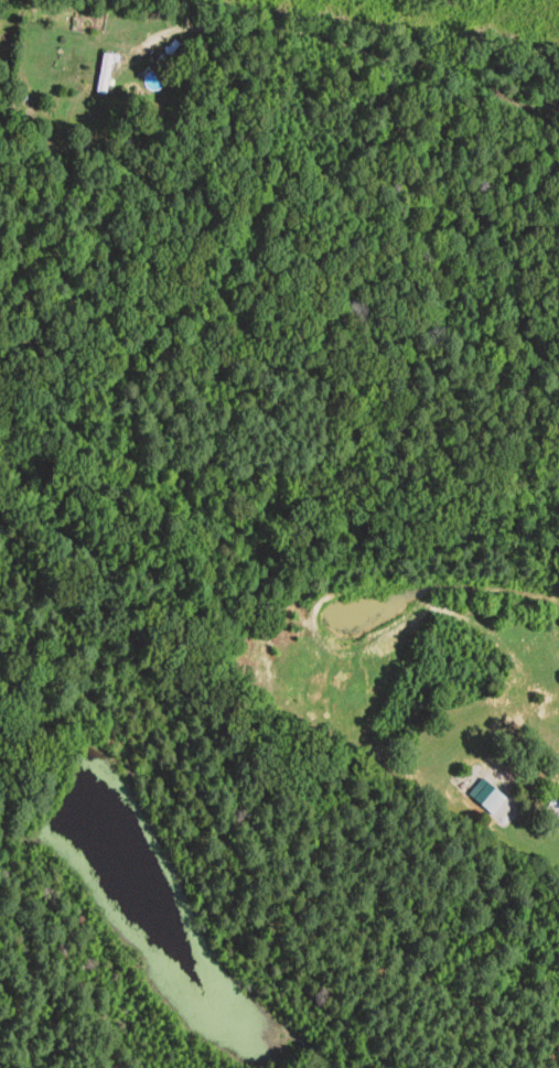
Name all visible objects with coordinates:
road: (400, 69)
building: (104, 75)
building: (552, 810)

